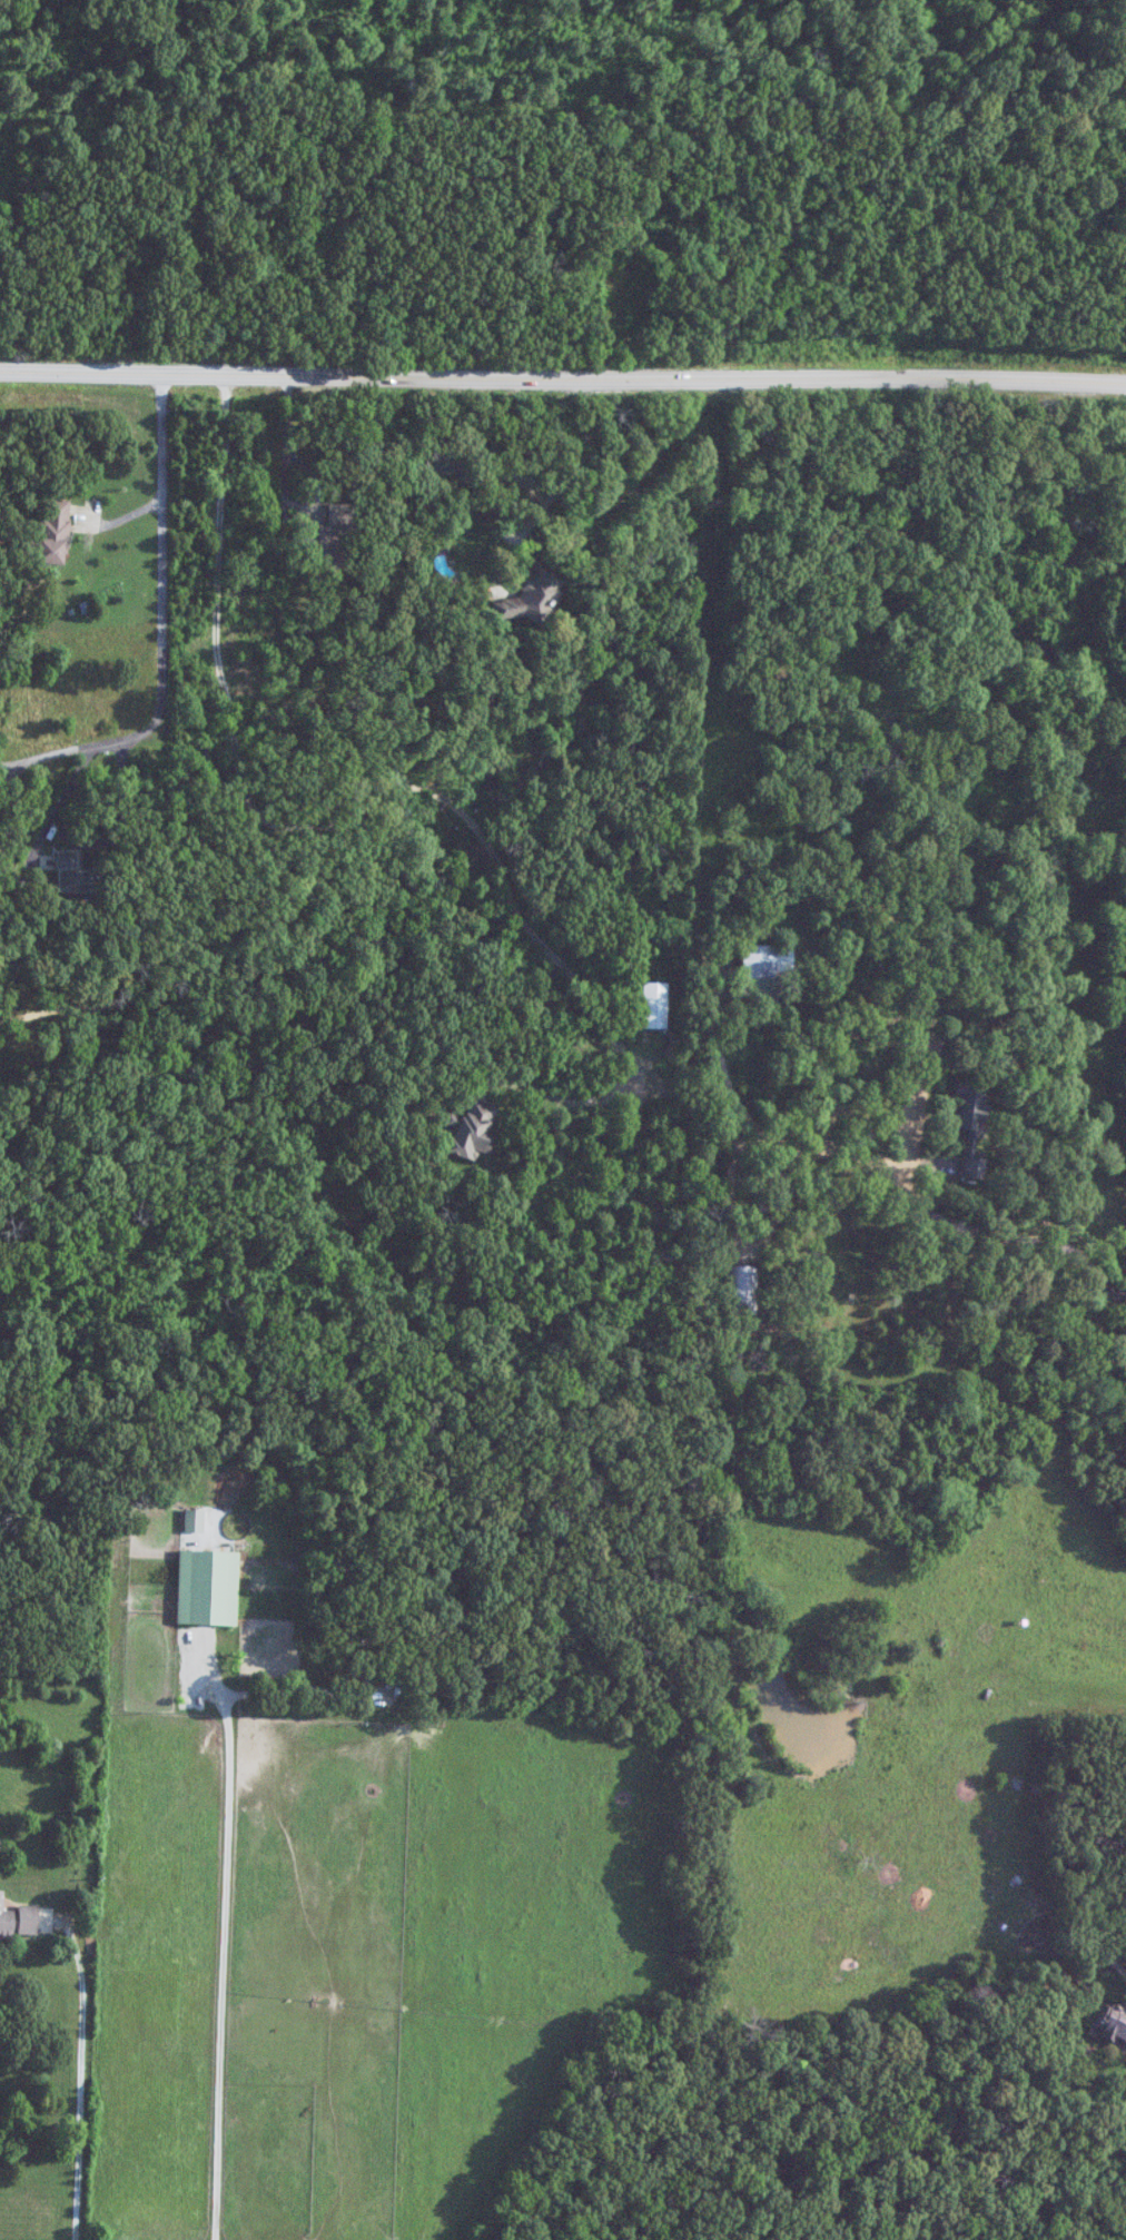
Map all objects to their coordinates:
road: (562, 375)
road: (586, 484)
building: (56, 531)
building: (520, 599)
road: (157, 614)
road: (435, 766)
building: (77, 876)
road: (1070, 906)
building: (762, 959)
building: (650, 1005)
building: (965, 1123)
building: (467, 1128)
building: (741, 1289)
building: (190, 1520)
building: (204, 1587)
building: (404, 1686)
building: (19, 1918)
road: (218, 1934)
building: (1108, 2021)
road: (75, 2076)
road: (412, 2174)

